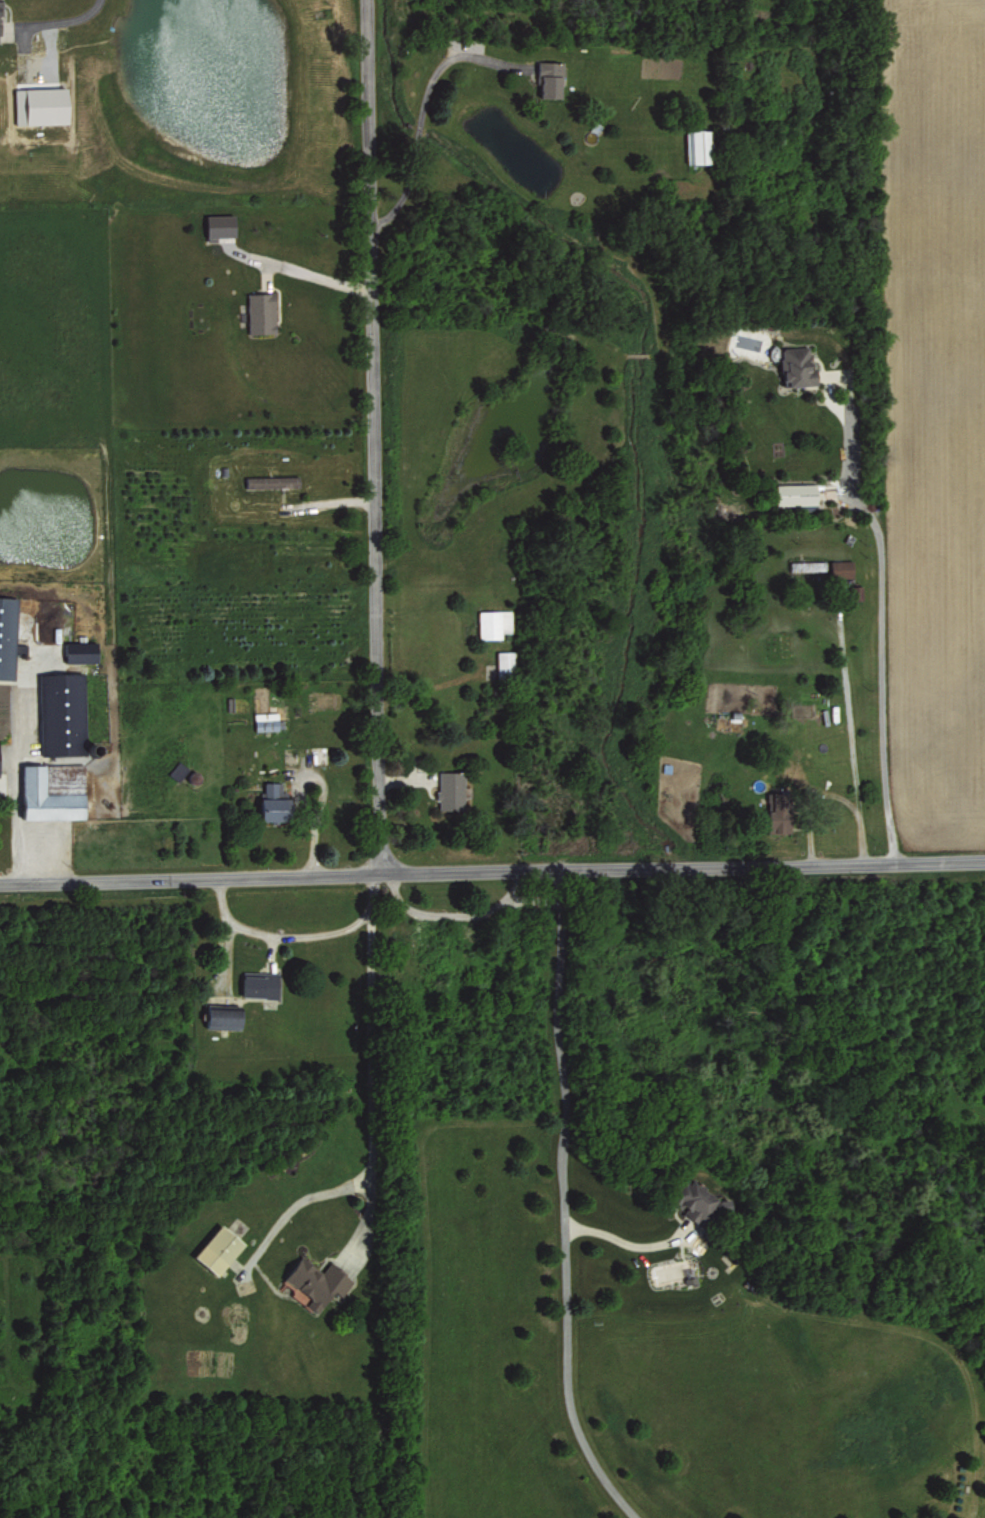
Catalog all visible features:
road: (59, 20)
building: (0, 36)
building: (549, 77)
building: (40, 104)
road: (423, 108)
building: (697, 145)
building: (220, 224)
road: (311, 273)
building: (261, 312)
building: (797, 366)
road: (372, 435)
building: (272, 480)
building: (795, 493)
building: (842, 567)
road: (881, 618)
building: (493, 622)
building: (8, 635)
building: (80, 651)
building: (505, 663)
building: (265, 720)
building: (57, 750)
road: (16, 776)
building: (448, 790)
building: (274, 802)
building: (778, 813)
road: (492, 867)
road: (283, 935)
building: (257, 983)
building: (223, 1017)
road: (372, 1060)
road: (301, 1198)
road: (563, 1200)
building: (696, 1201)
road: (625, 1243)
building: (218, 1250)
building: (316, 1281)

